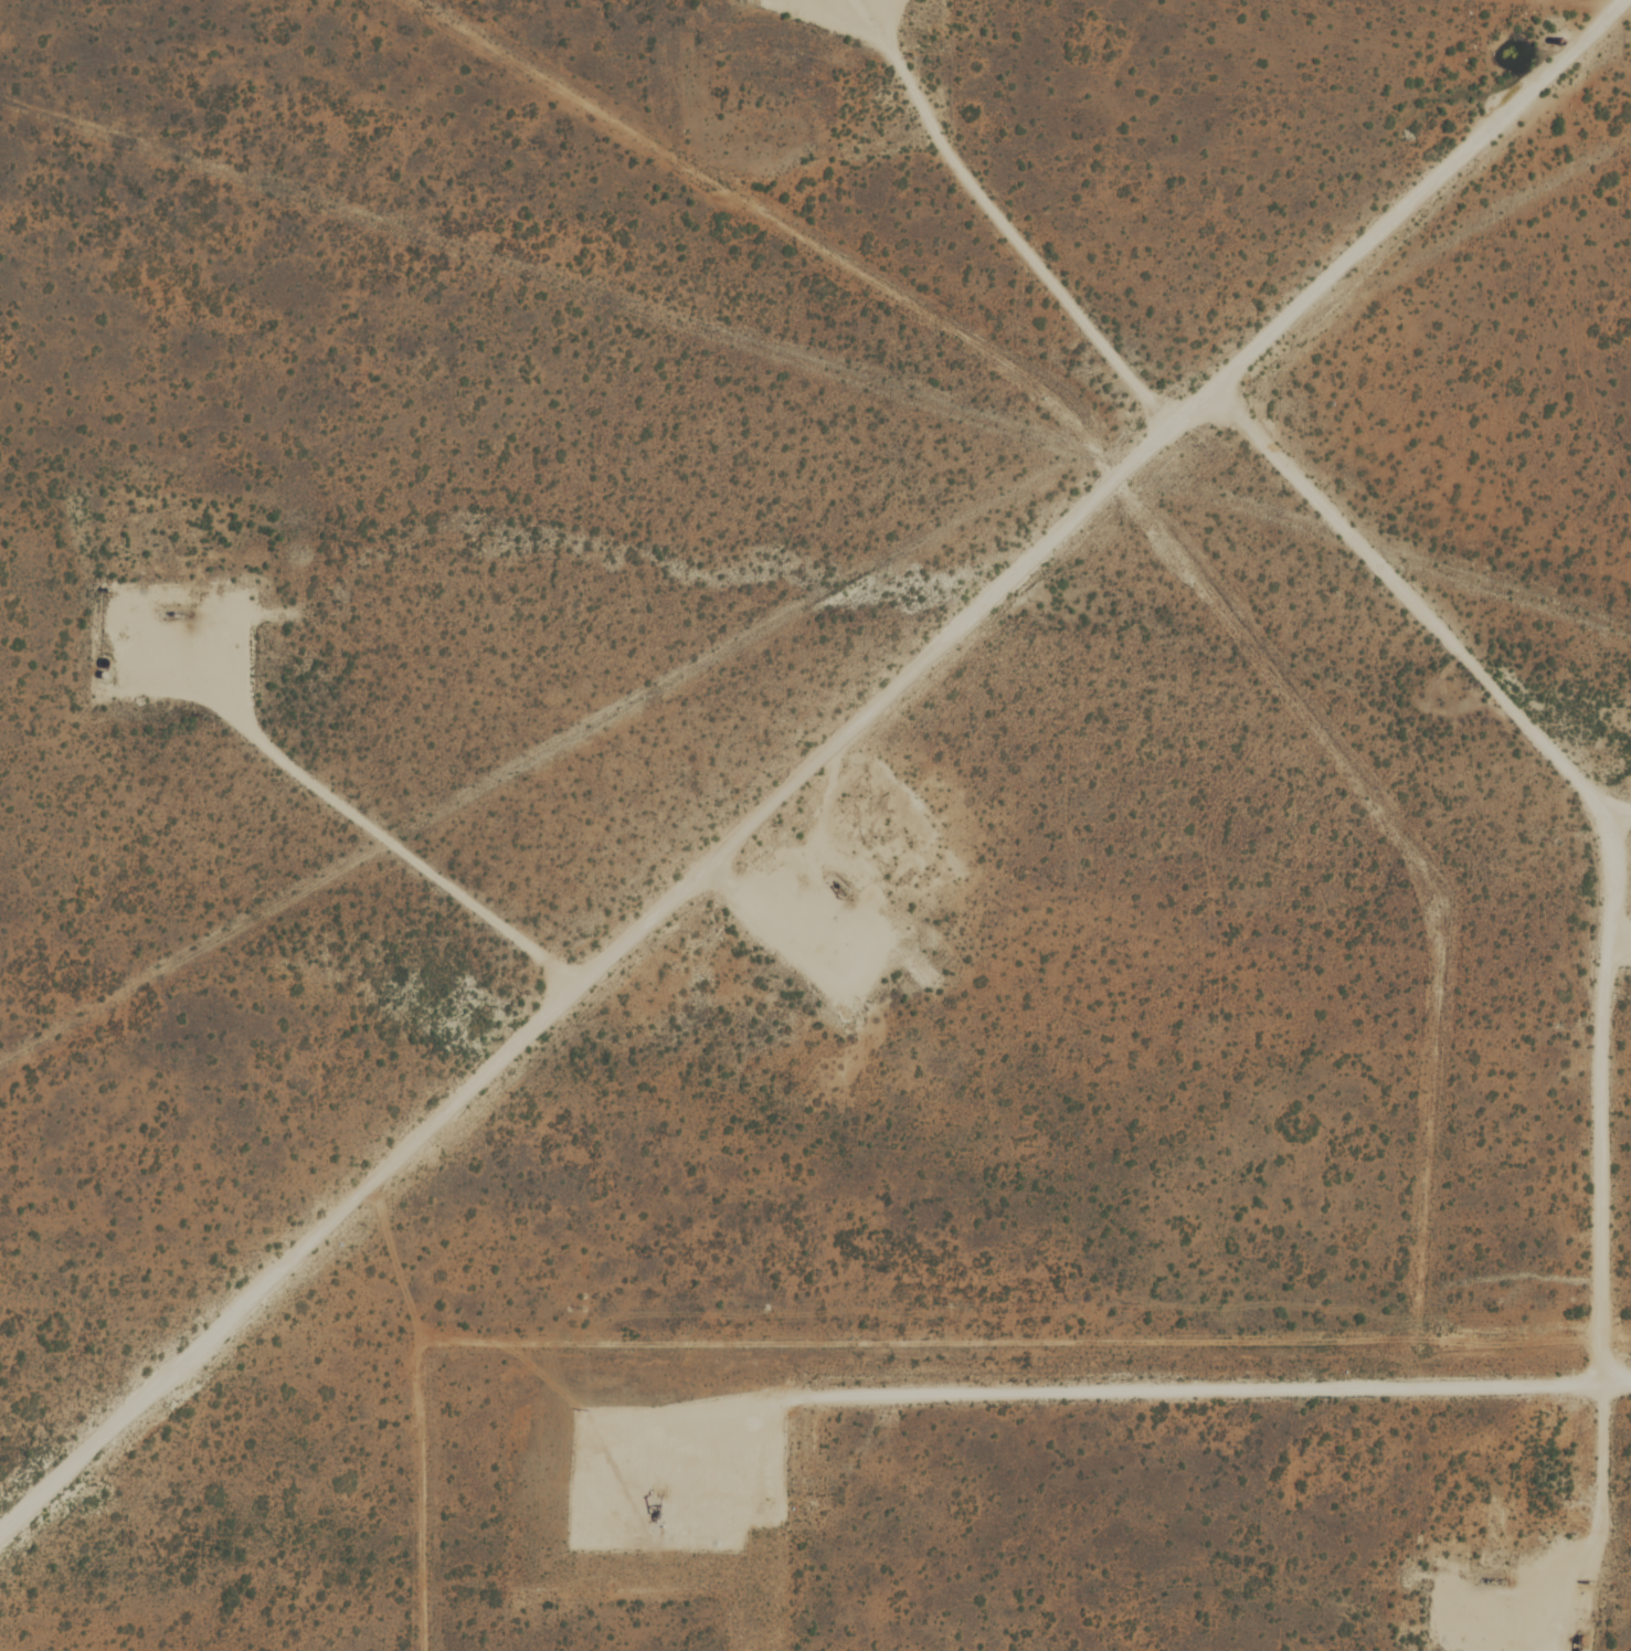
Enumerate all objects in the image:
road: (1005, 220)
petroleum well: (174, 605)
road: (809, 769)
road: (1621, 811)
road: (413, 854)
petroleum well: (838, 881)
road: (1620, 942)
road: (1608, 945)
road: (1093, 1393)
petroleum well: (658, 1496)

